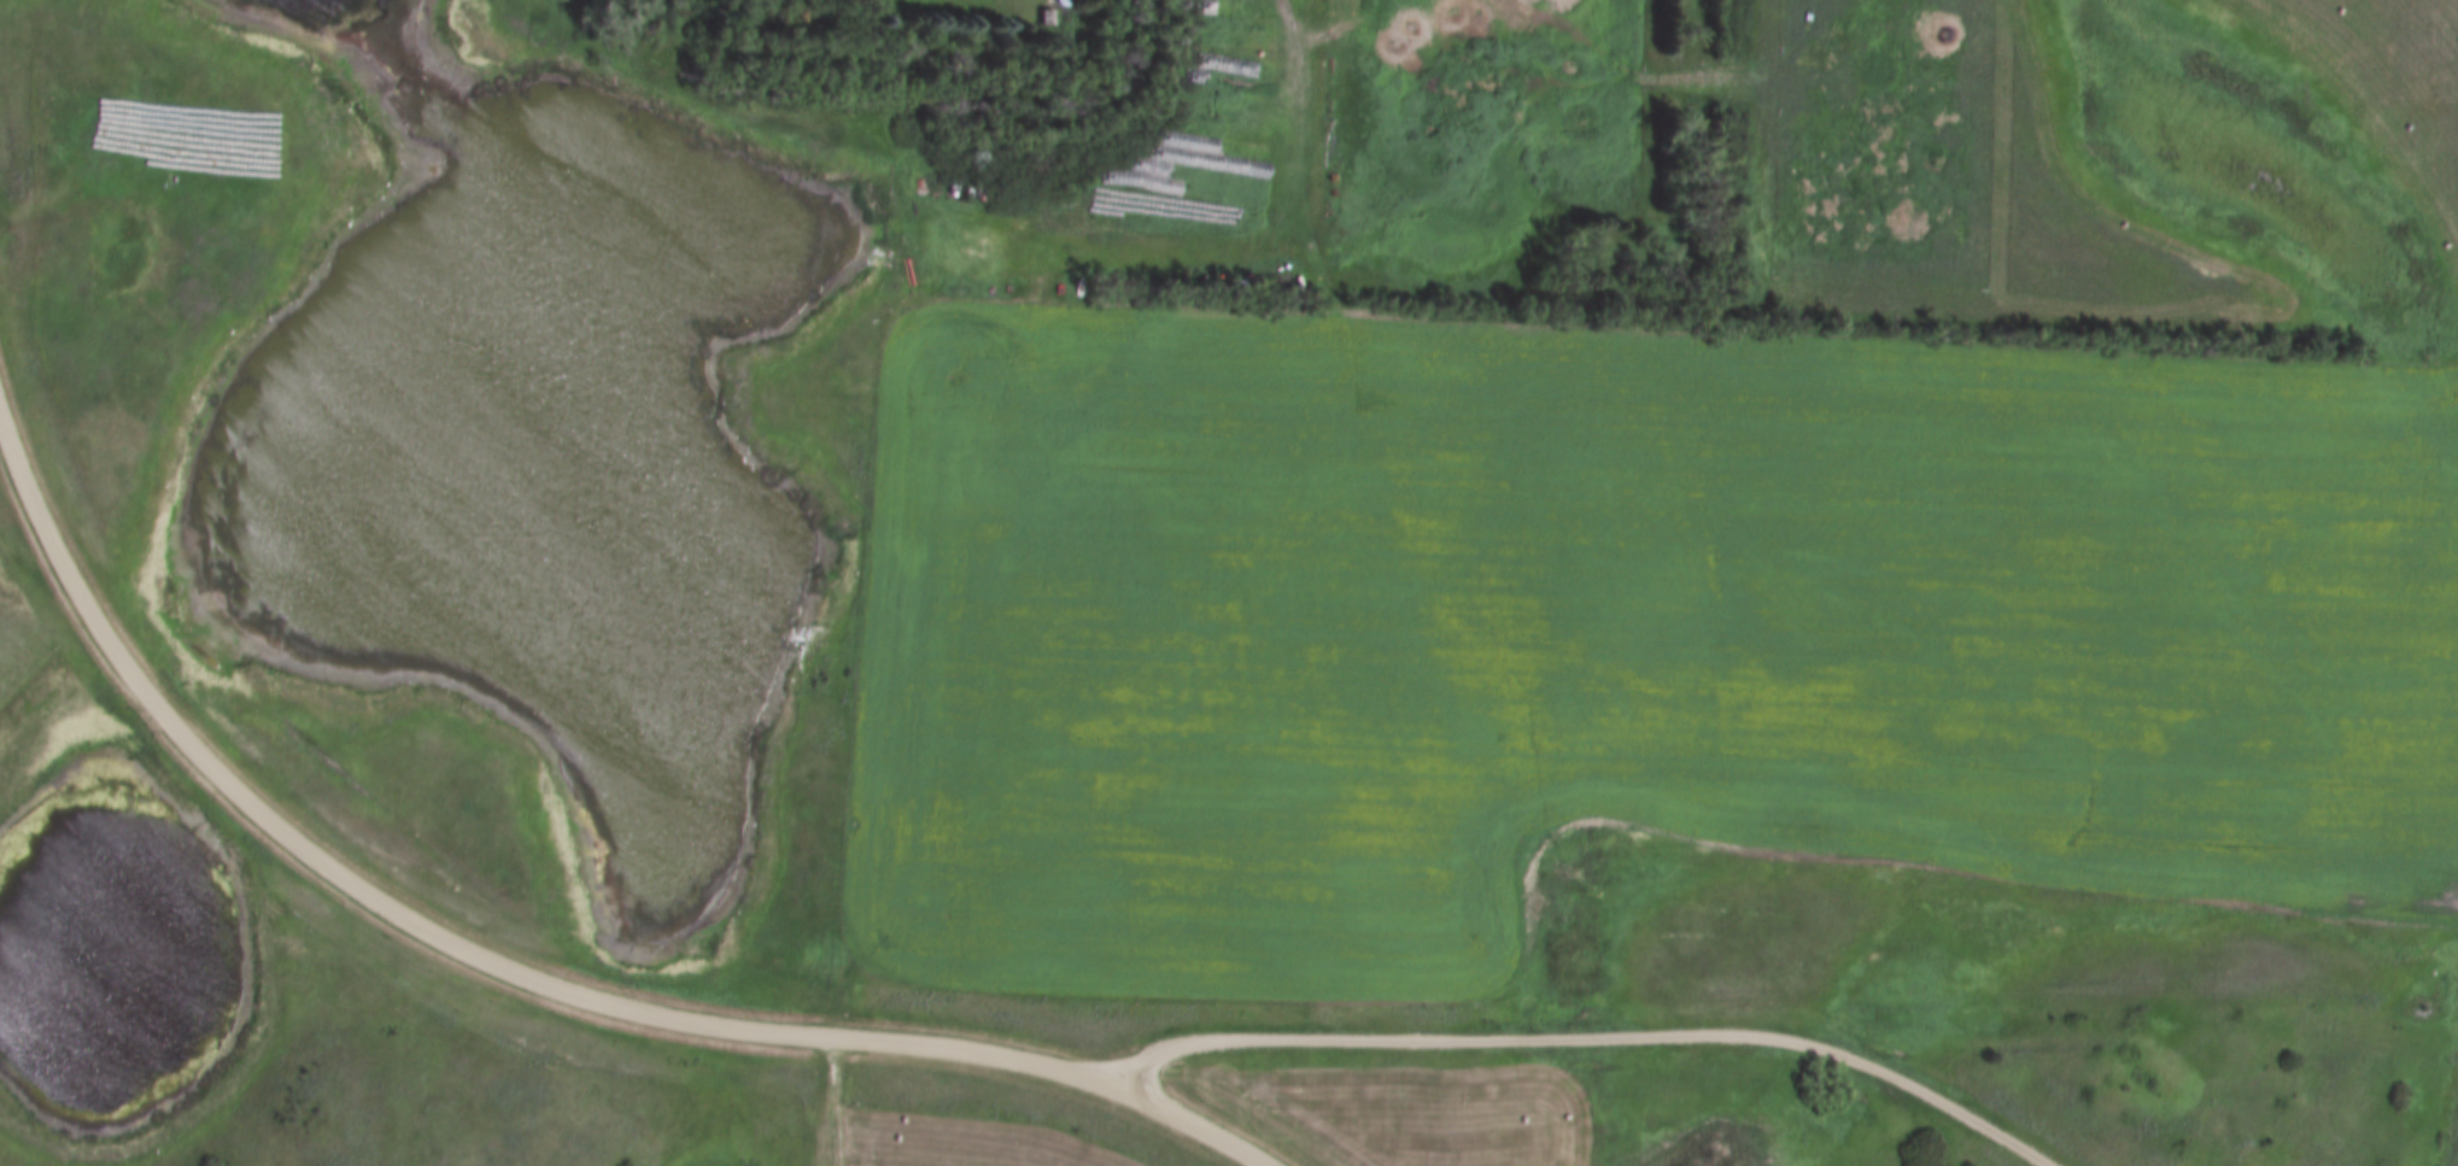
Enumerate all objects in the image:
road: (1321, 24)
road: (521, 971)
road: (1579, 1036)
road: (835, 1101)

